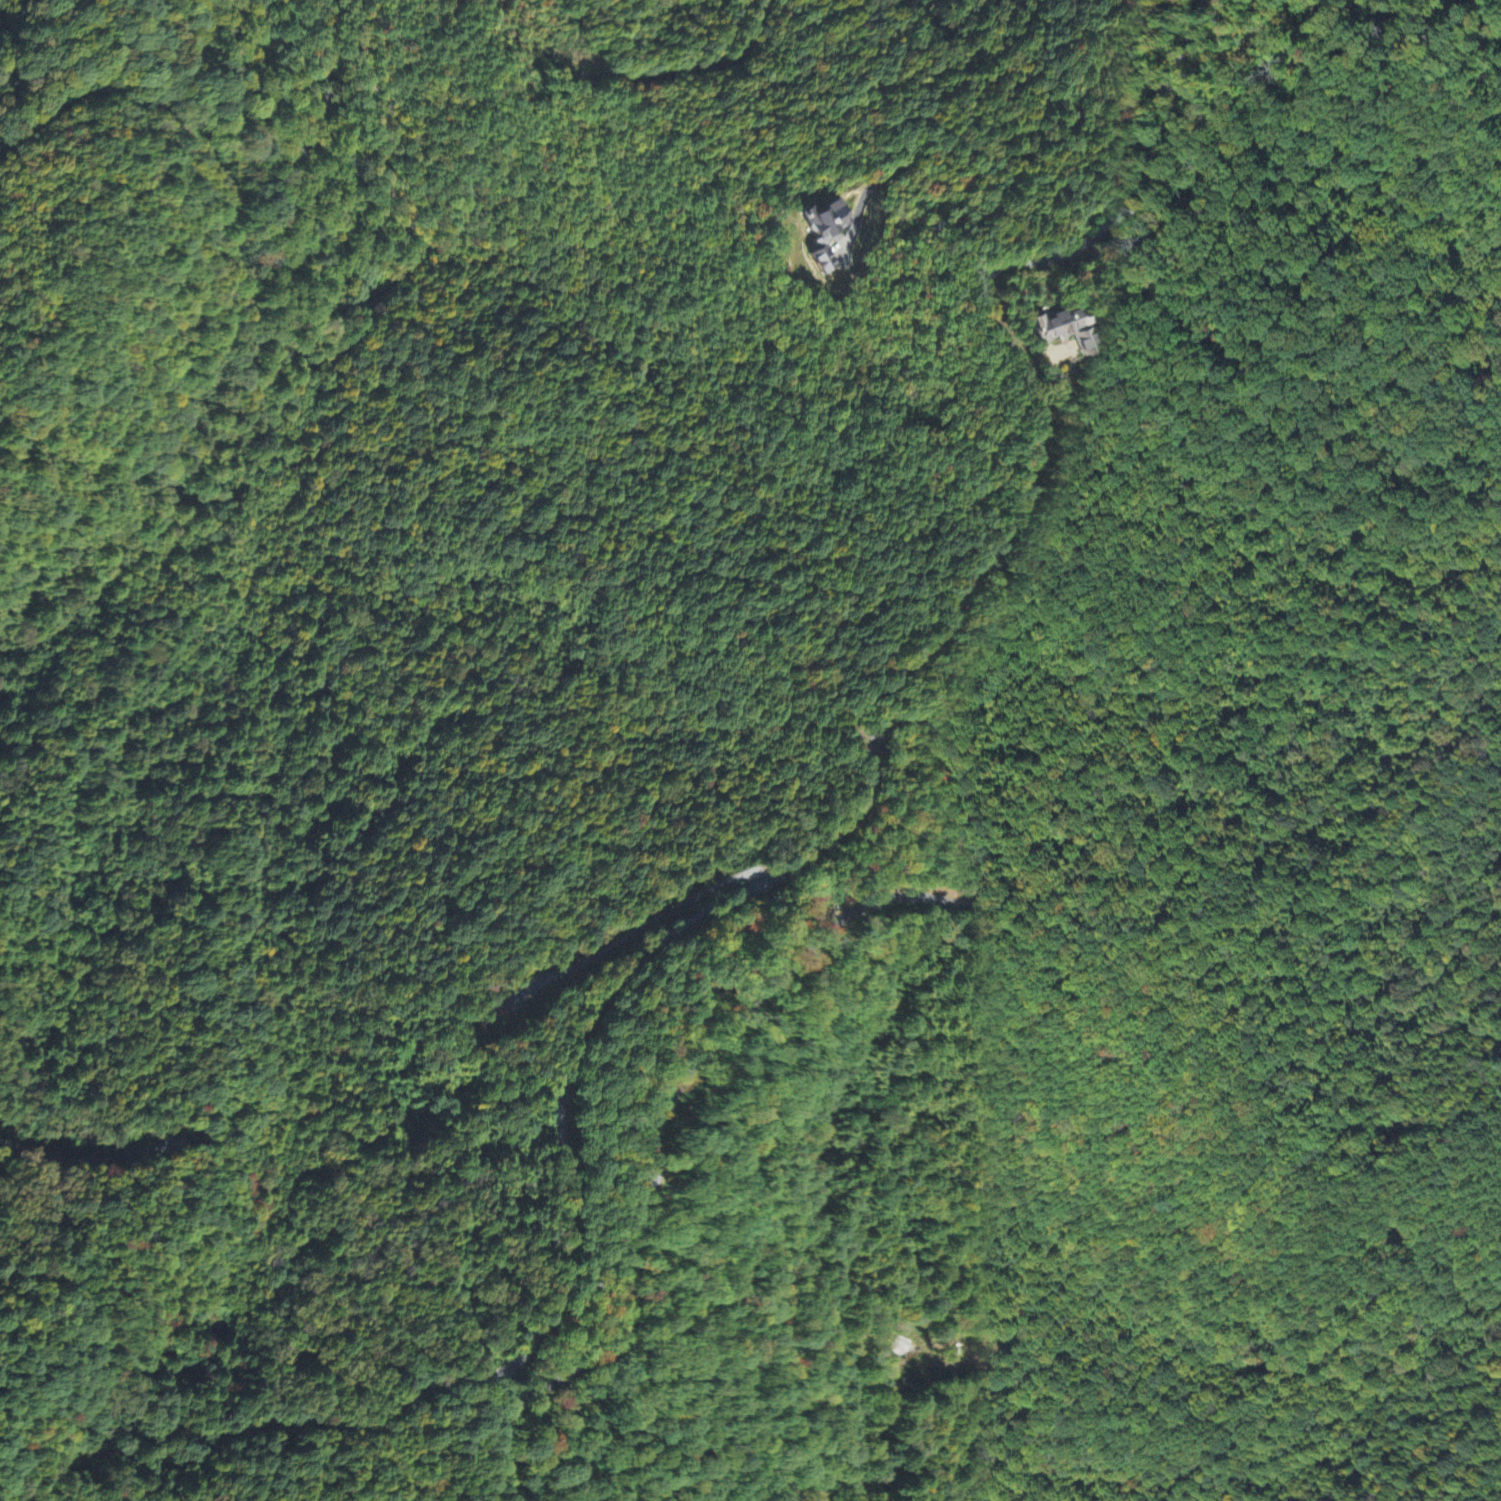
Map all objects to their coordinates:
road: (381, 157)
building: (1064, 331)
road: (272, 341)
road: (585, 1016)
road: (34, 1222)
road: (498, 1438)
road: (187, 1466)

